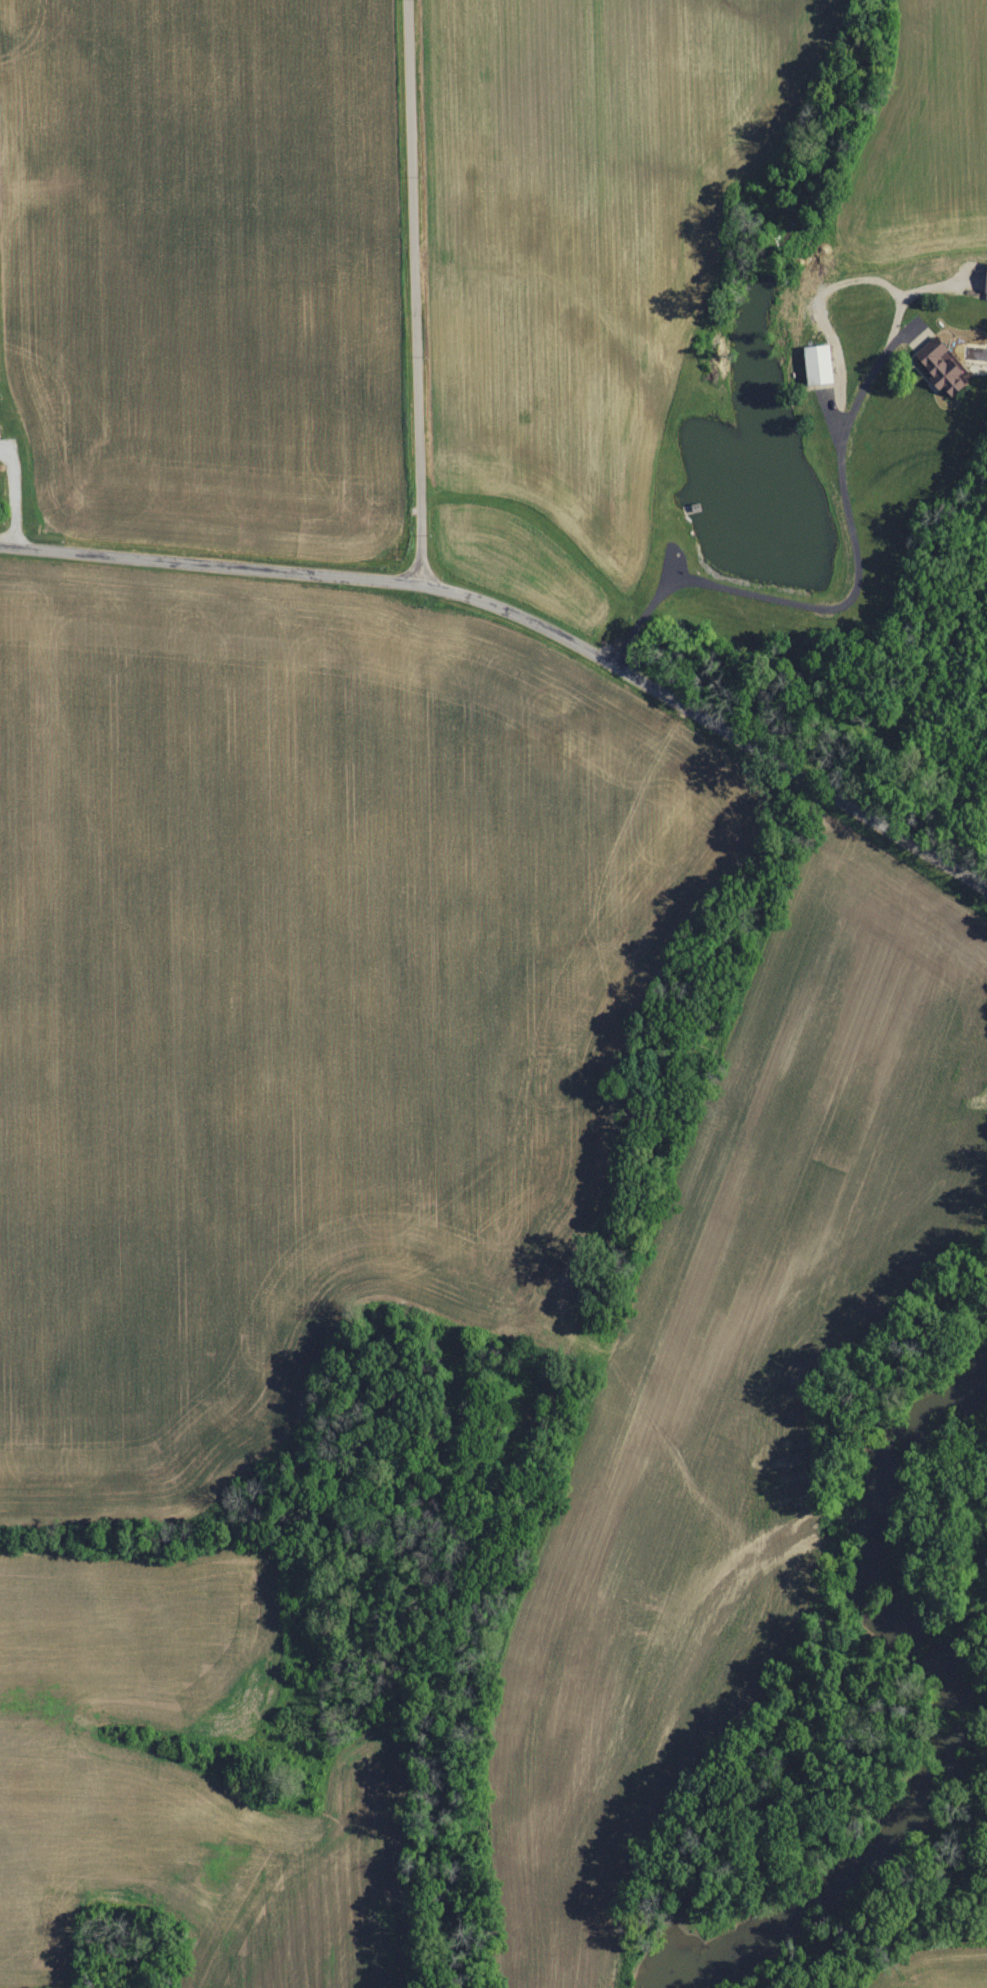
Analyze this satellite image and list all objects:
road: (415, 288)
building: (821, 365)
building: (948, 373)
road: (15, 490)
road: (851, 593)
road: (523, 623)
river: (936, 1707)

